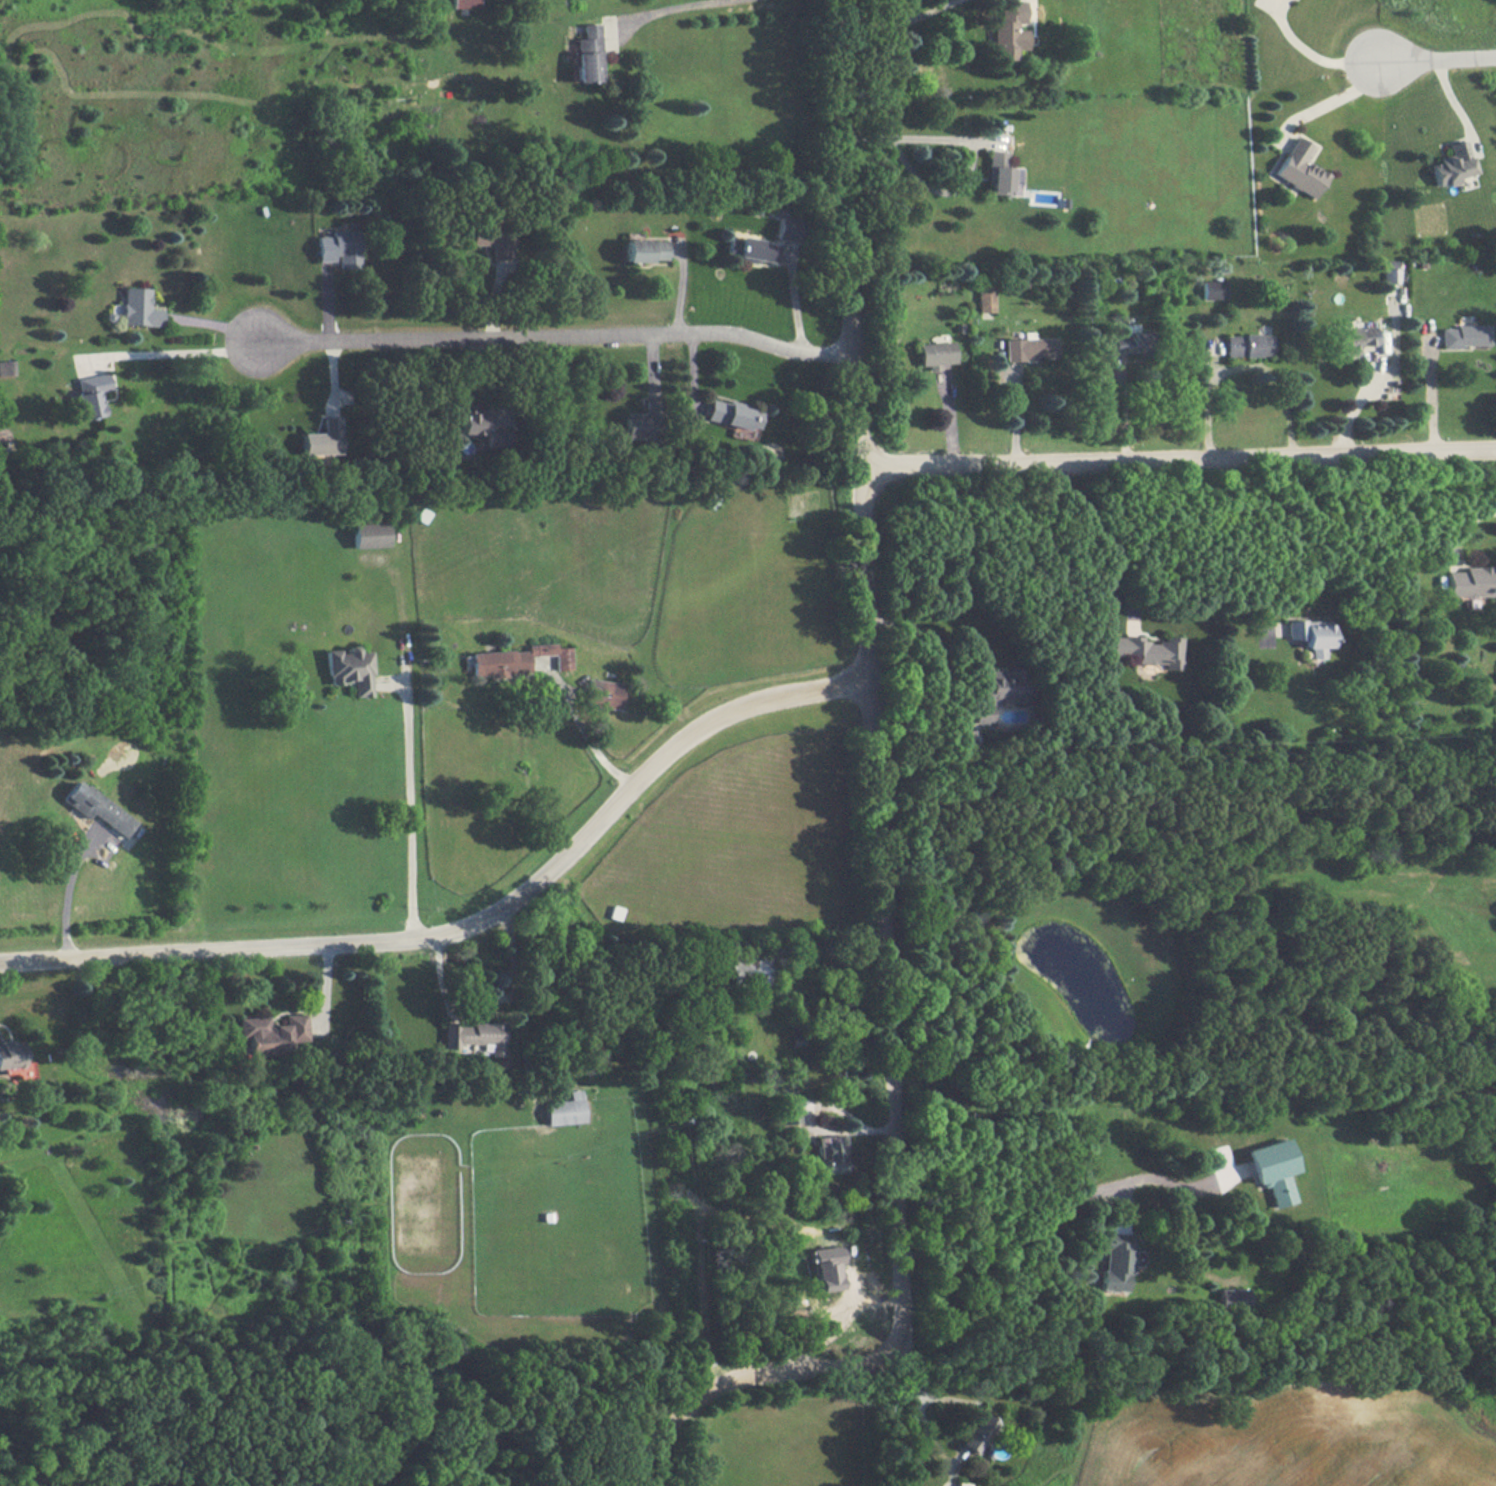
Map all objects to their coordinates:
building: (462, 3)
road: (672, 9)
road: (899, 21)
building: (1009, 31)
building: (588, 54)
road: (1312, 54)
road: (1437, 57)
road: (968, 164)
building: (1452, 164)
building: (1300, 168)
building: (1001, 174)
building: (788, 228)
building: (491, 238)
building: (339, 247)
building: (645, 249)
building: (752, 249)
building: (1391, 270)
building: (1214, 289)
building: (986, 298)
building: (139, 307)
road: (556, 331)
building: (1465, 335)
building: (1352, 339)
building: (1130, 341)
building: (1248, 344)
building: (1030, 348)
road: (172, 354)
building: (935, 354)
road: (1242, 365)
building: (6, 367)
building: (90, 393)
road: (1432, 395)
road: (1358, 402)
building: (732, 413)
building: (474, 421)
building: (642, 421)
building: (323, 437)
road: (1177, 459)
road: (1464, 522)
building: (368, 534)
road: (1095, 539)
road: (1291, 543)
building: (1471, 581)
building: (1310, 634)
building: (1147, 649)
road: (927, 650)
building: (517, 659)
building: (349, 668)
building: (998, 690)
building: (603, 693)
road: (593, 746)
building: (97, 807)
road: (411, 816)
road: (880, 847)
road: (66, 898)
road: (475, 929)
road: (493, 1001)
building: (272, 1032)
building: (475, 1035)
building: (14, 1059)
building: (566, 1109)
building: (788, 1110)
road: (810, 1123)
building: (832, 1156)
building: (1269, 1169)
road: (1058, 1211)
building: (1113, 1261)
building: (826, 1268)
building: (1232, 1298)
road: (922, 1394)
building: (977, 1431)
building: (964, 1483)

